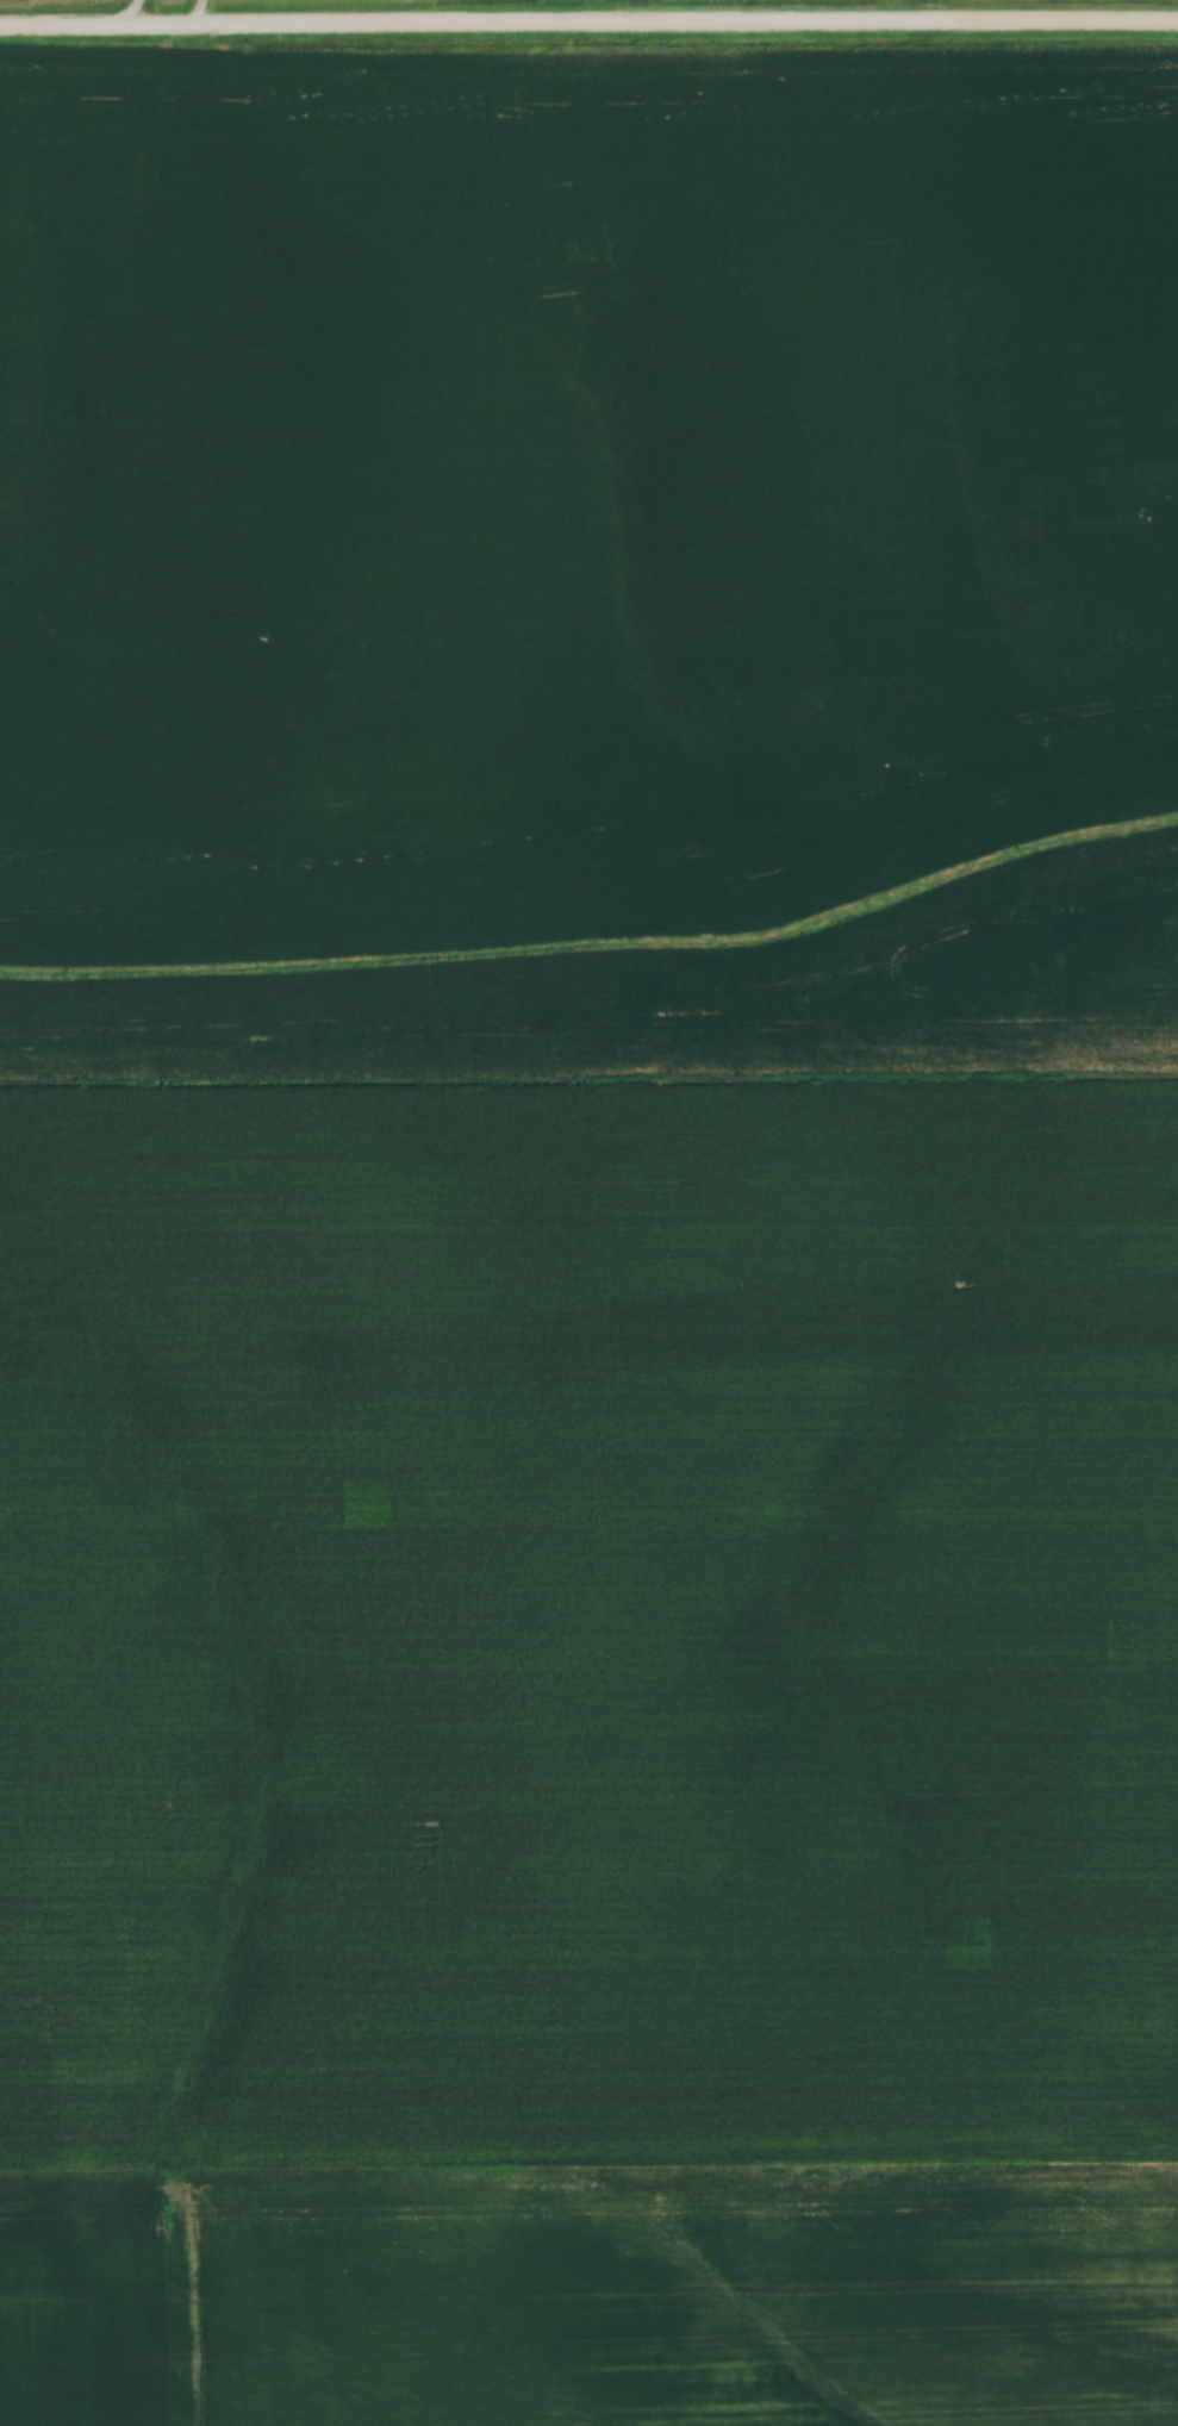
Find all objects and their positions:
road: (588, 27)

